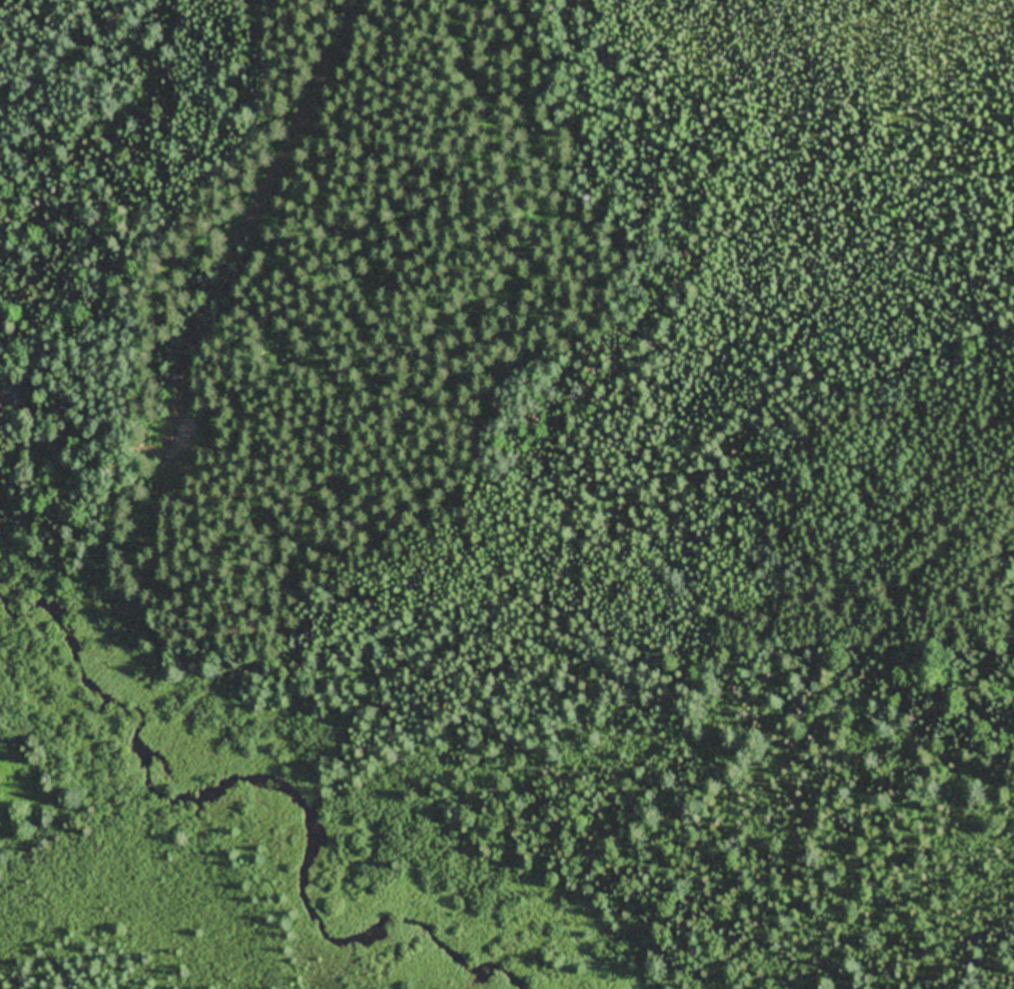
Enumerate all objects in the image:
road: (197, 217)

